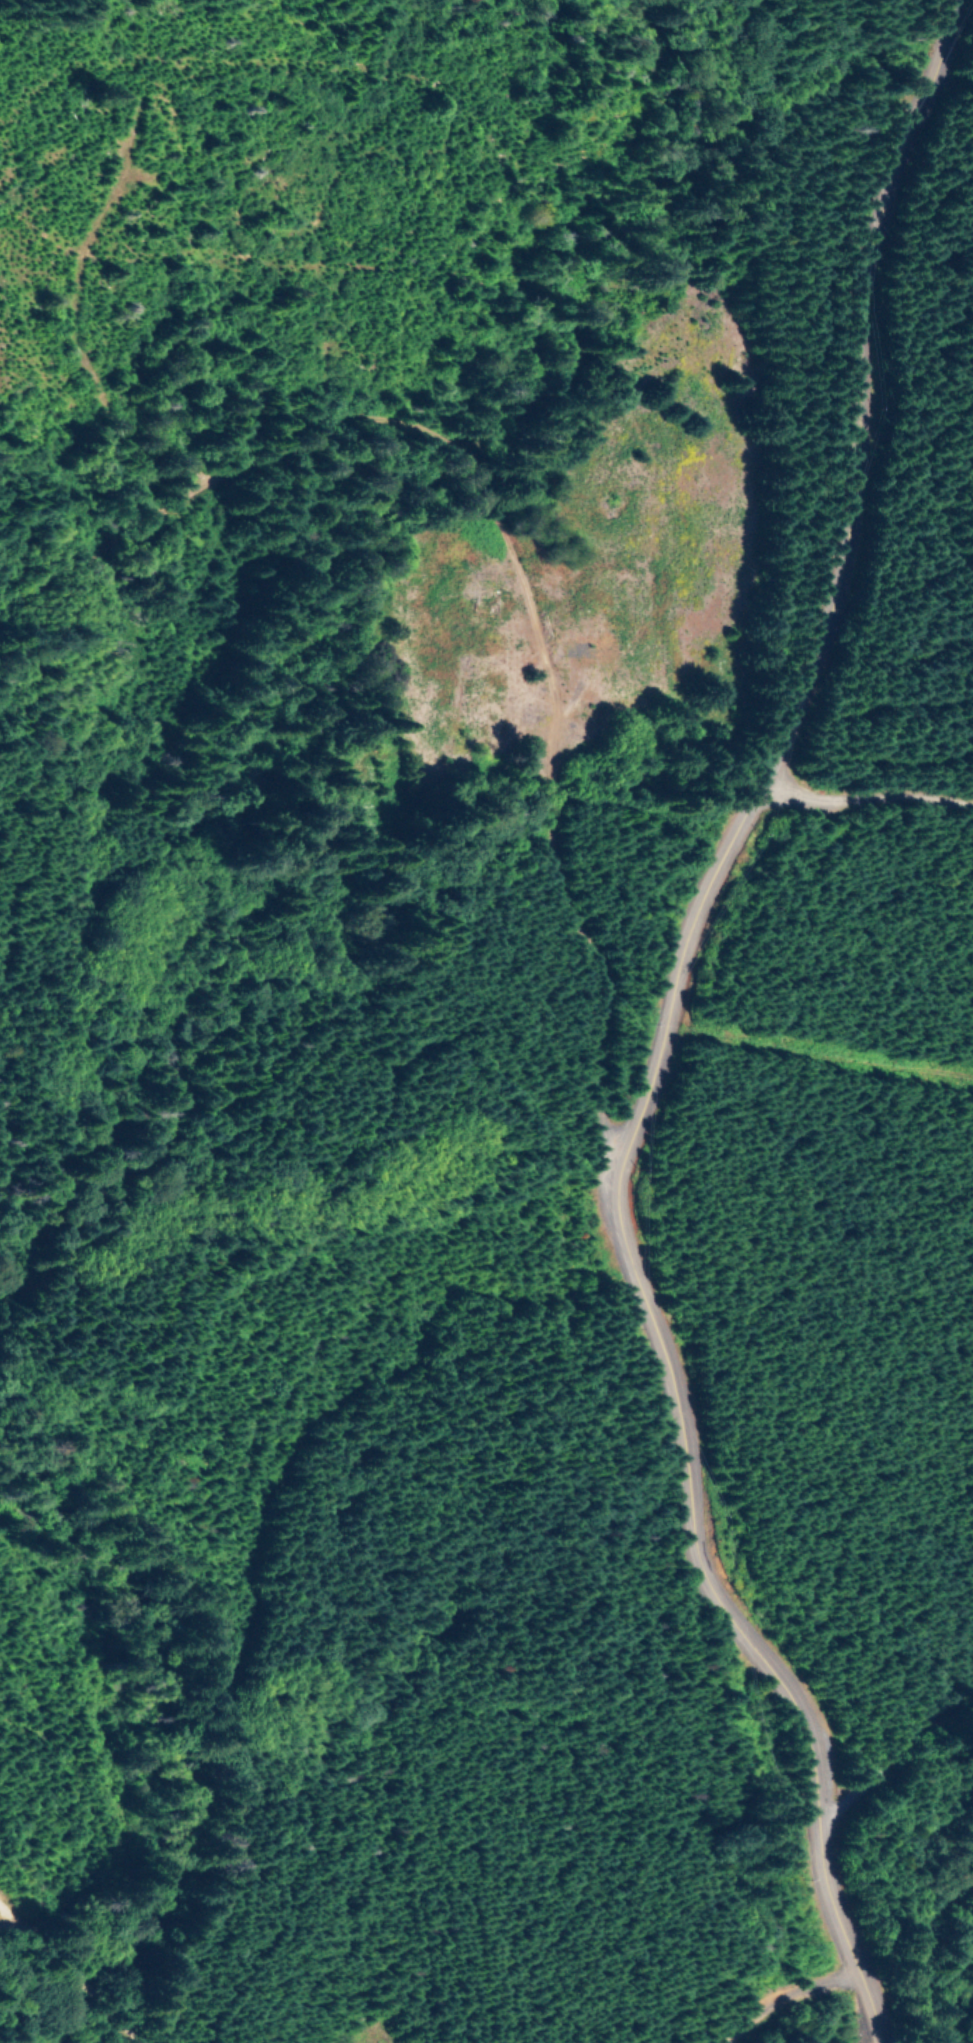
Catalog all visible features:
road: (105, 573)
road: (507, 616)
road: (887, 825)
road: (682, 1097)
road: (924, 1779)
road: (19, 1919)
road: (780, 1957)
road: (77, 1961)

